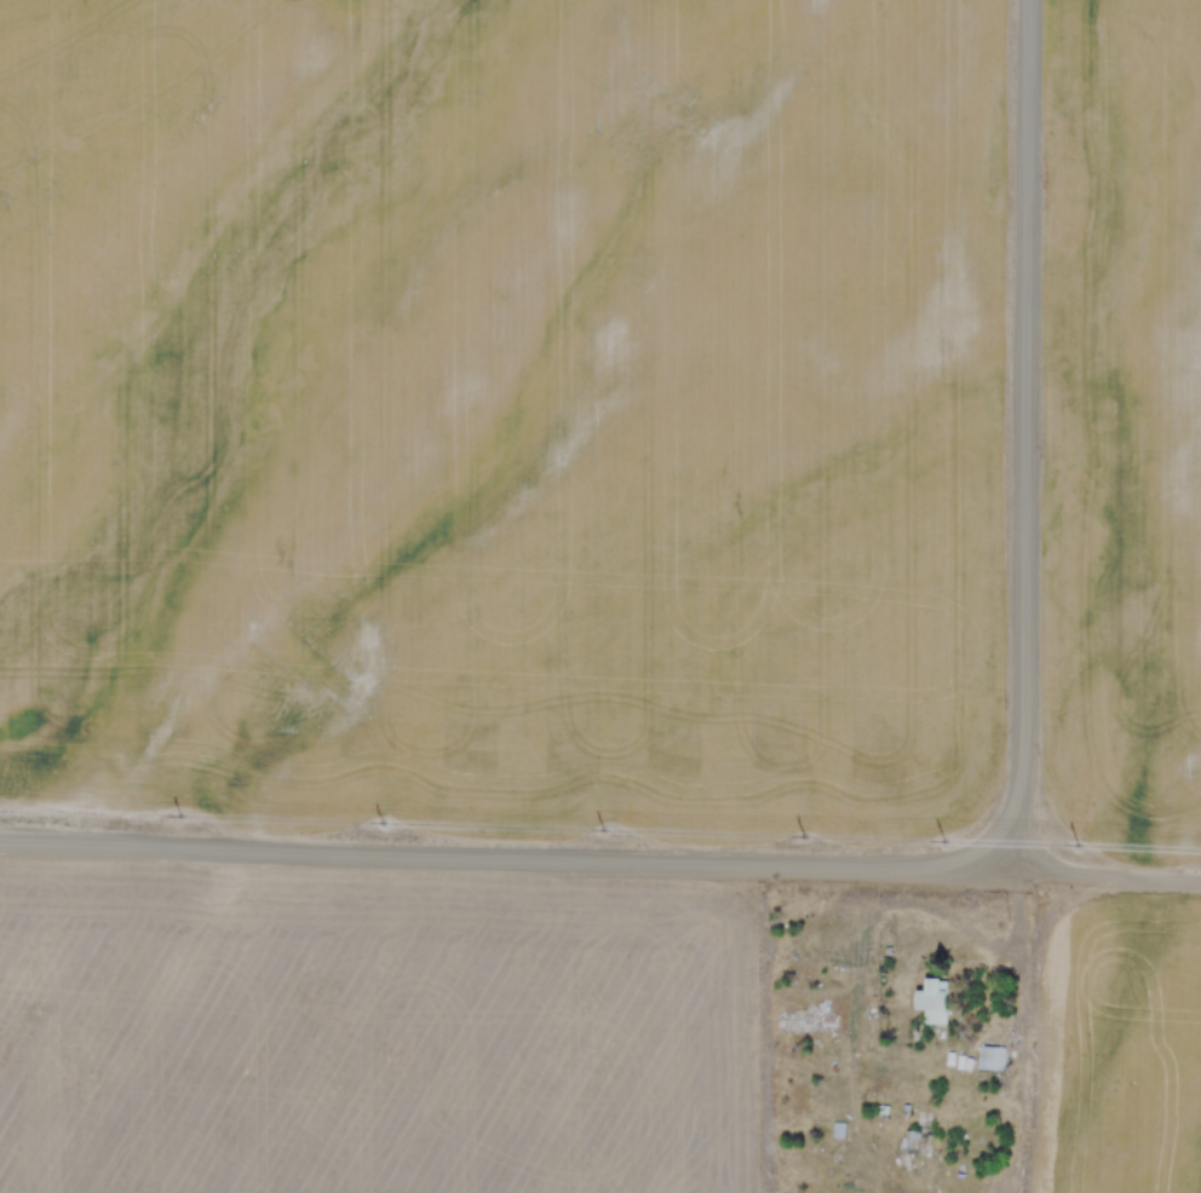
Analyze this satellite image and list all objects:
road: (1015, 427)
road: (505, 846)
road: (1107, 859)

